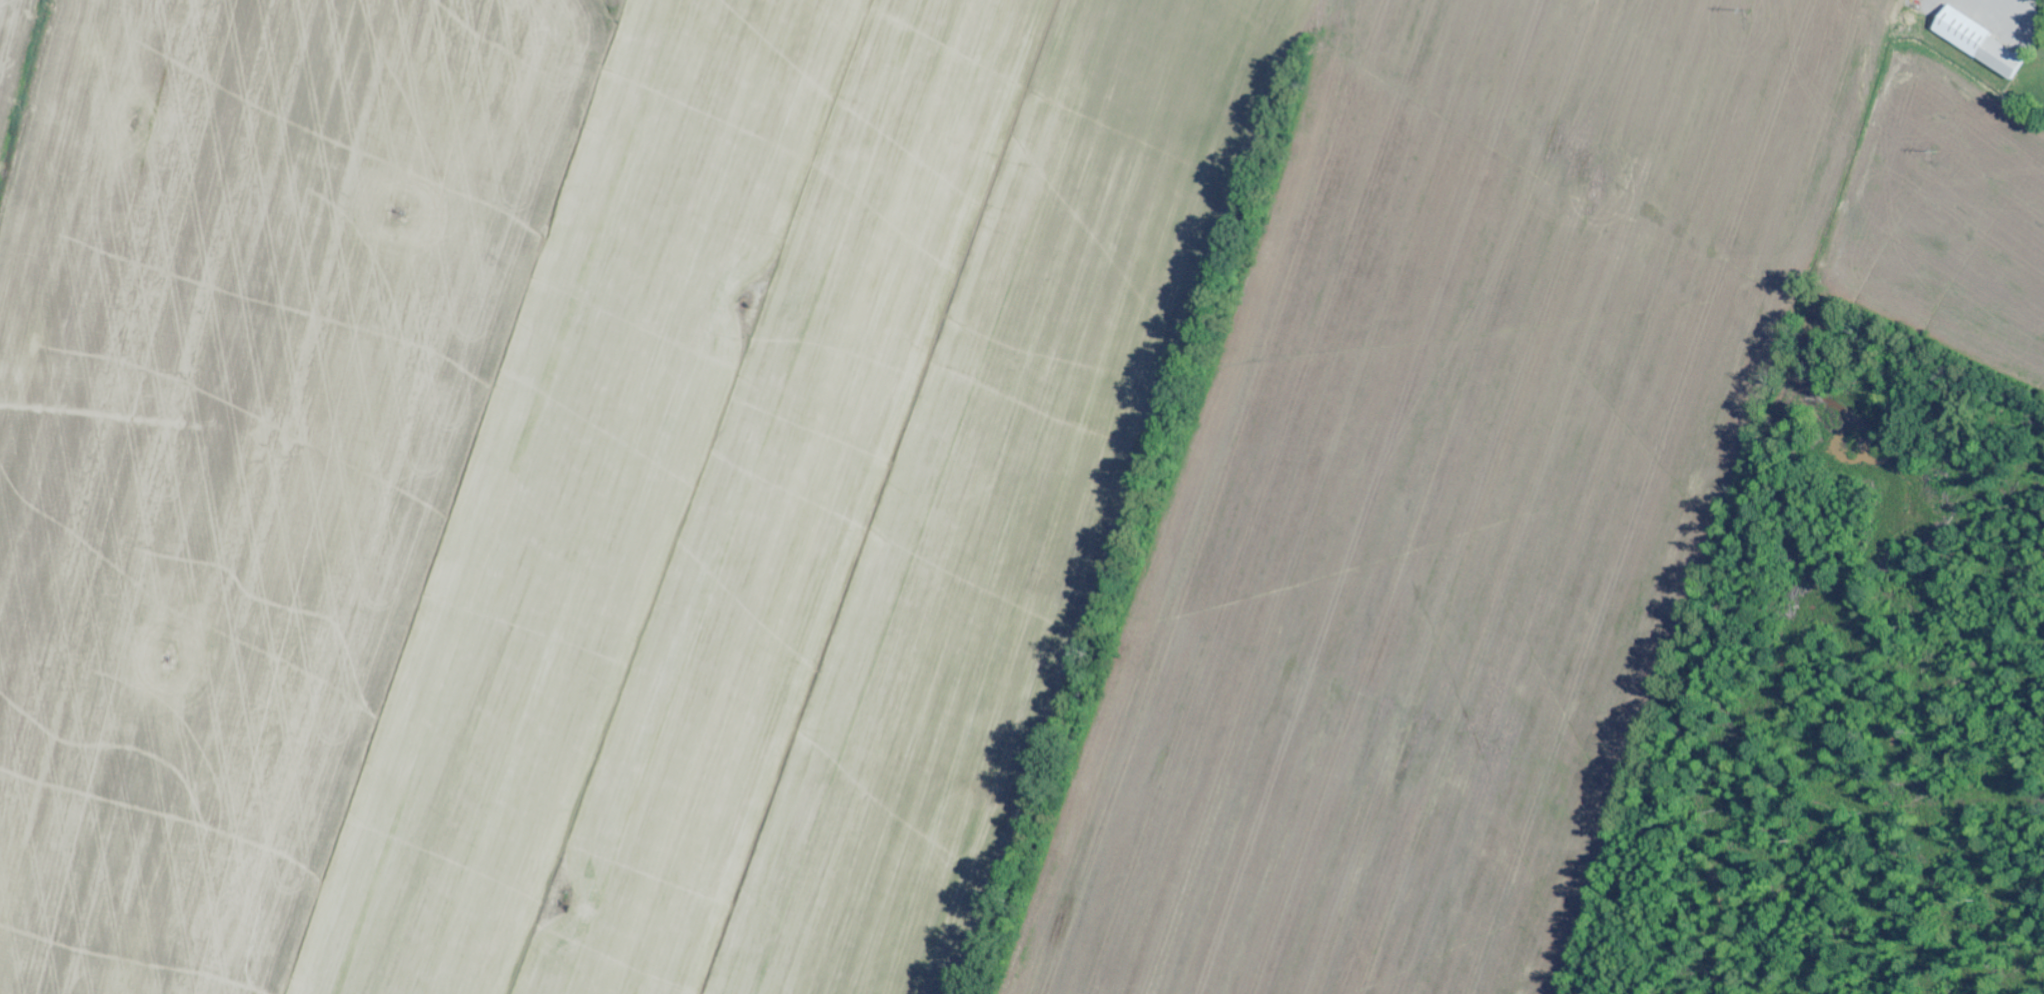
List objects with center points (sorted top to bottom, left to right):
building: (1974, 39)

